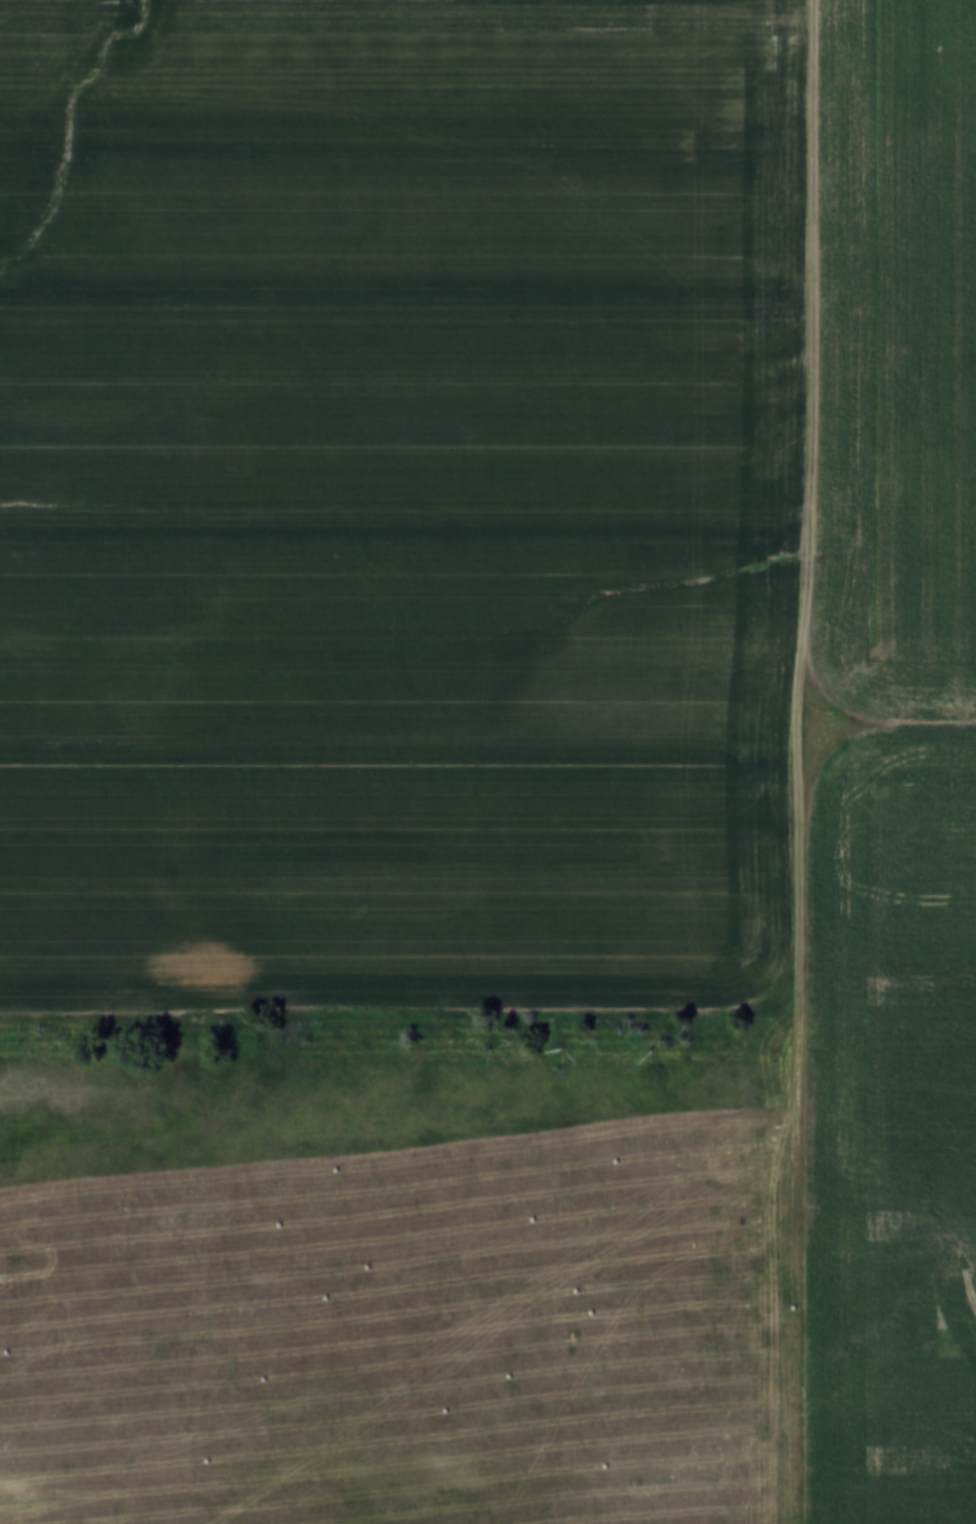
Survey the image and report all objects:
road: (805, 545)

